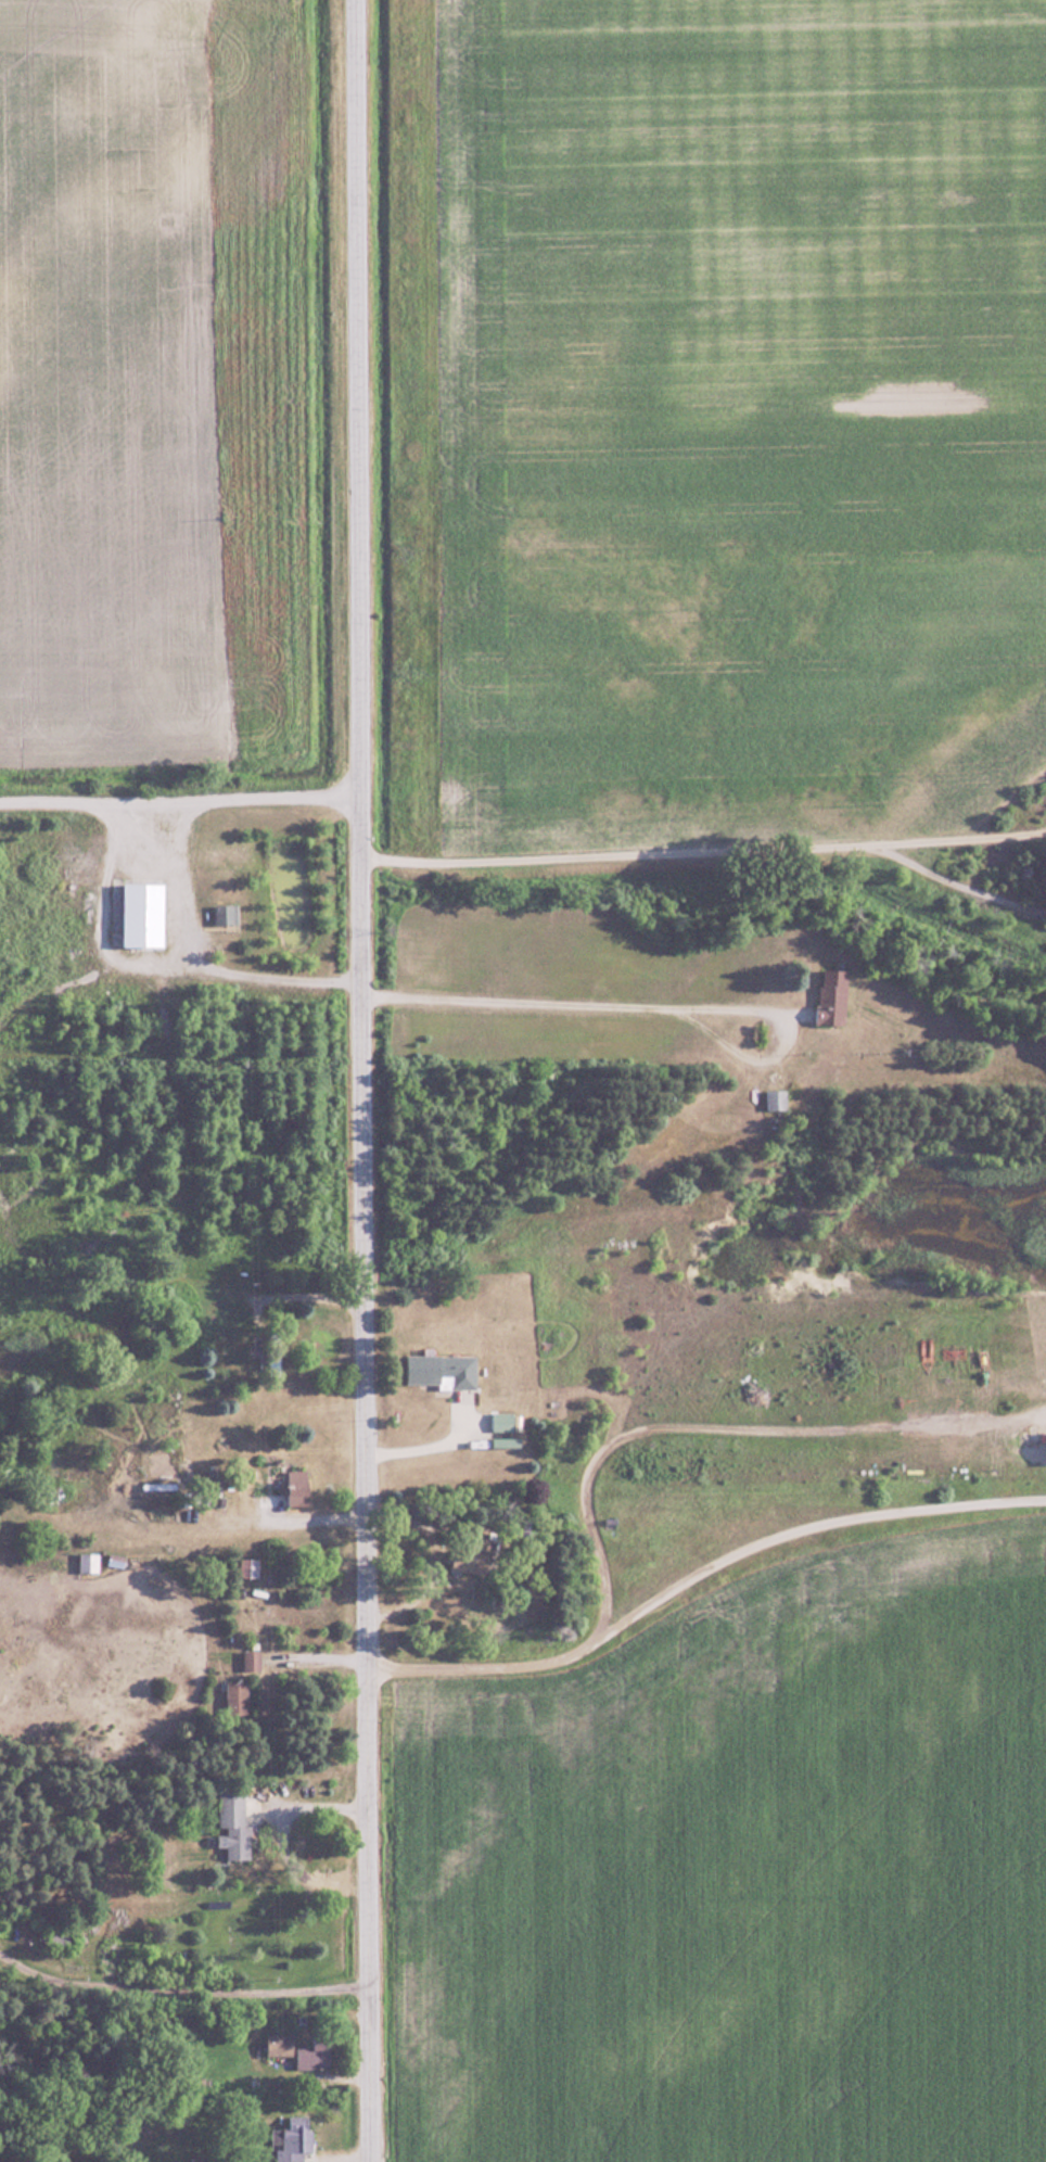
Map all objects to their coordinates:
road: (175, 799)
building: (7, 842)
road: (700, 853)
road: (961, 883)
building: (227, 914)
building: (145, 915)
road: (195, 955)
building: (832, 997)
road: (639, 1003)
road: (350, 1081)
building: (776, 1099)
building: (443, 1371)
building: (502, 1422)
building: (297, 1480)
building: (89, 1563)
building: (473, 1564)
road: (693, 1565)
building: (252, 1567)
building: (251, 1661)
building: (235, 1699)
building: (233, 1826)
road: (181, 1989)
building: (299, 2051)
building: (292, 2139)

